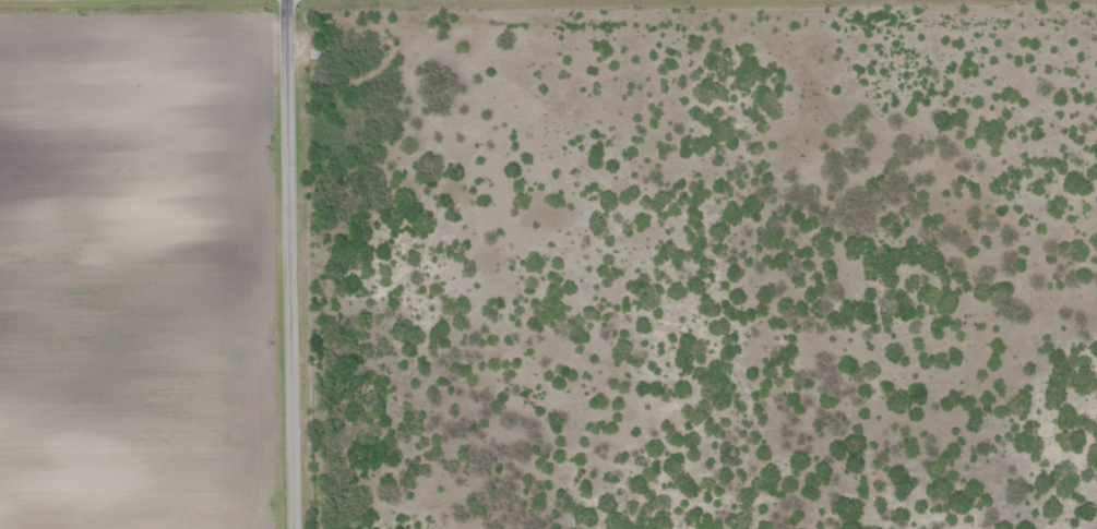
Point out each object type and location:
road: (306, 264)

